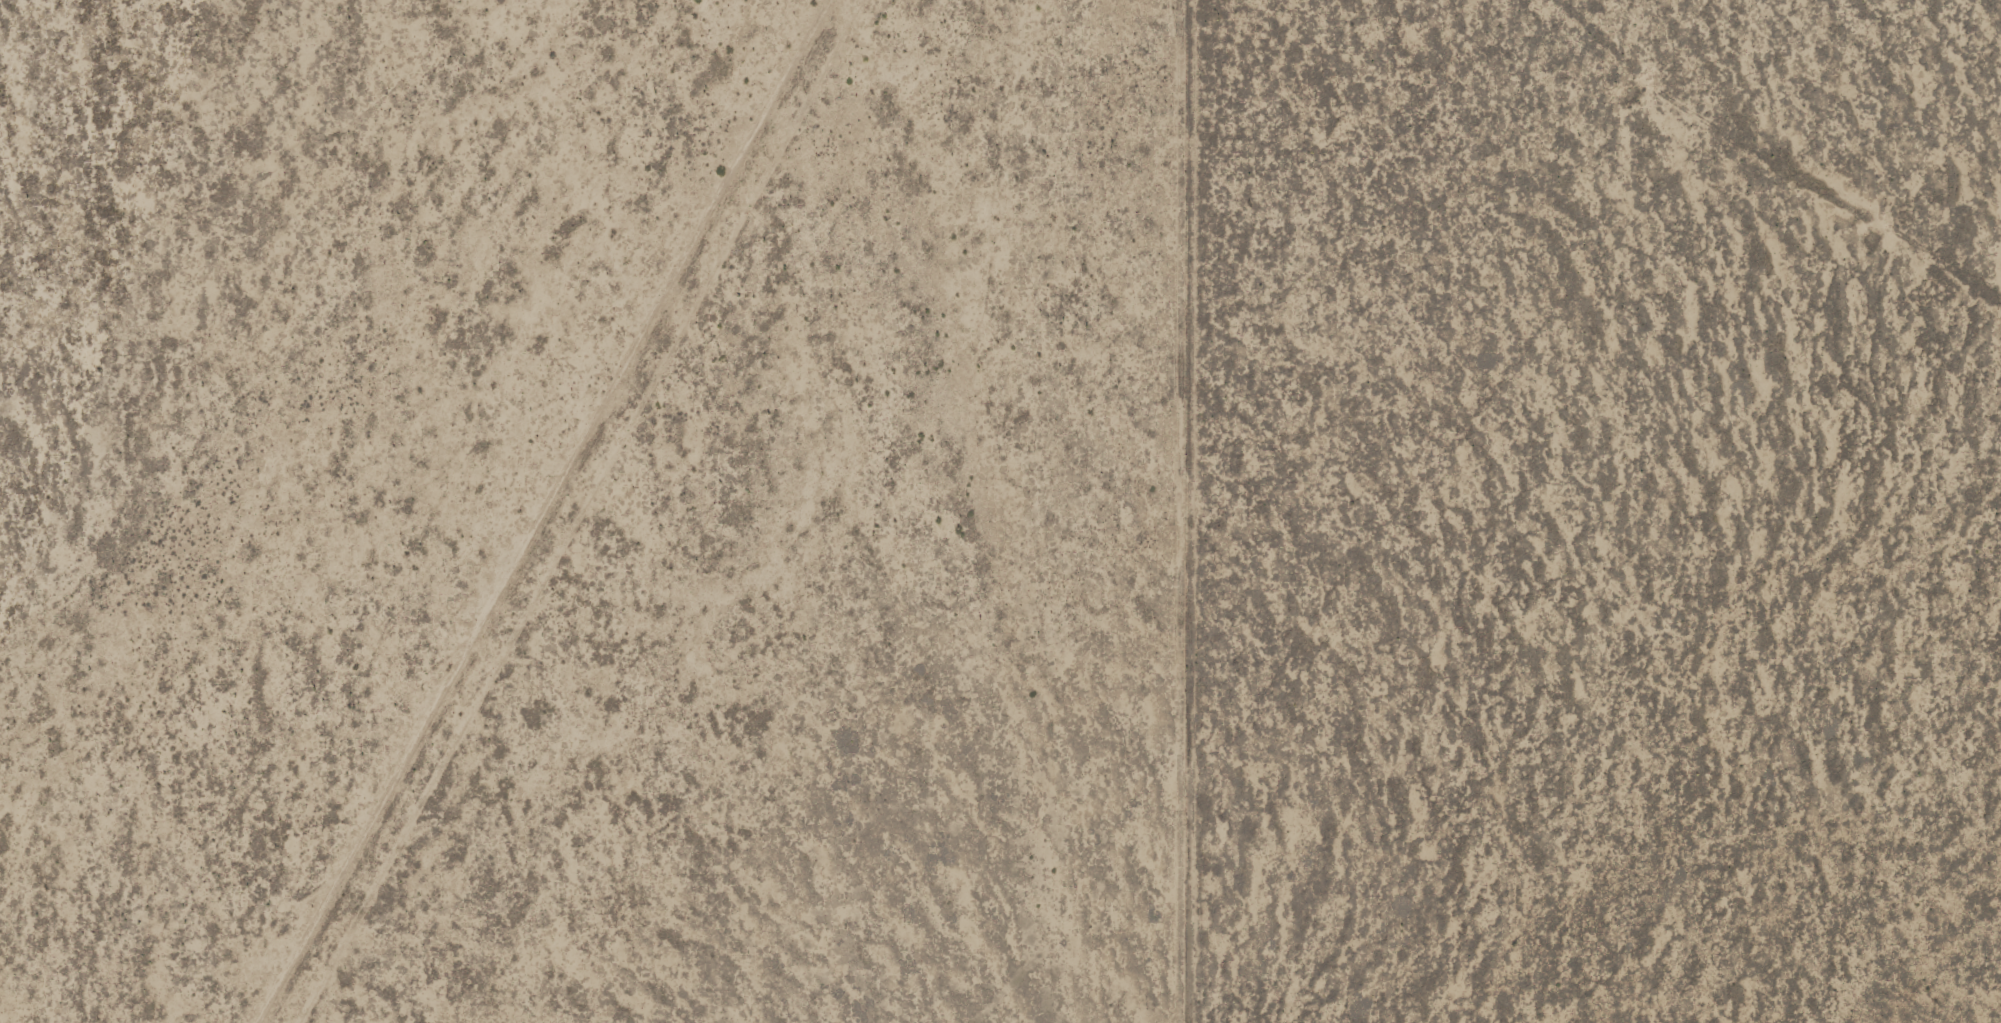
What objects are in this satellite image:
road: (1754, 160)
road: (543, 512)

